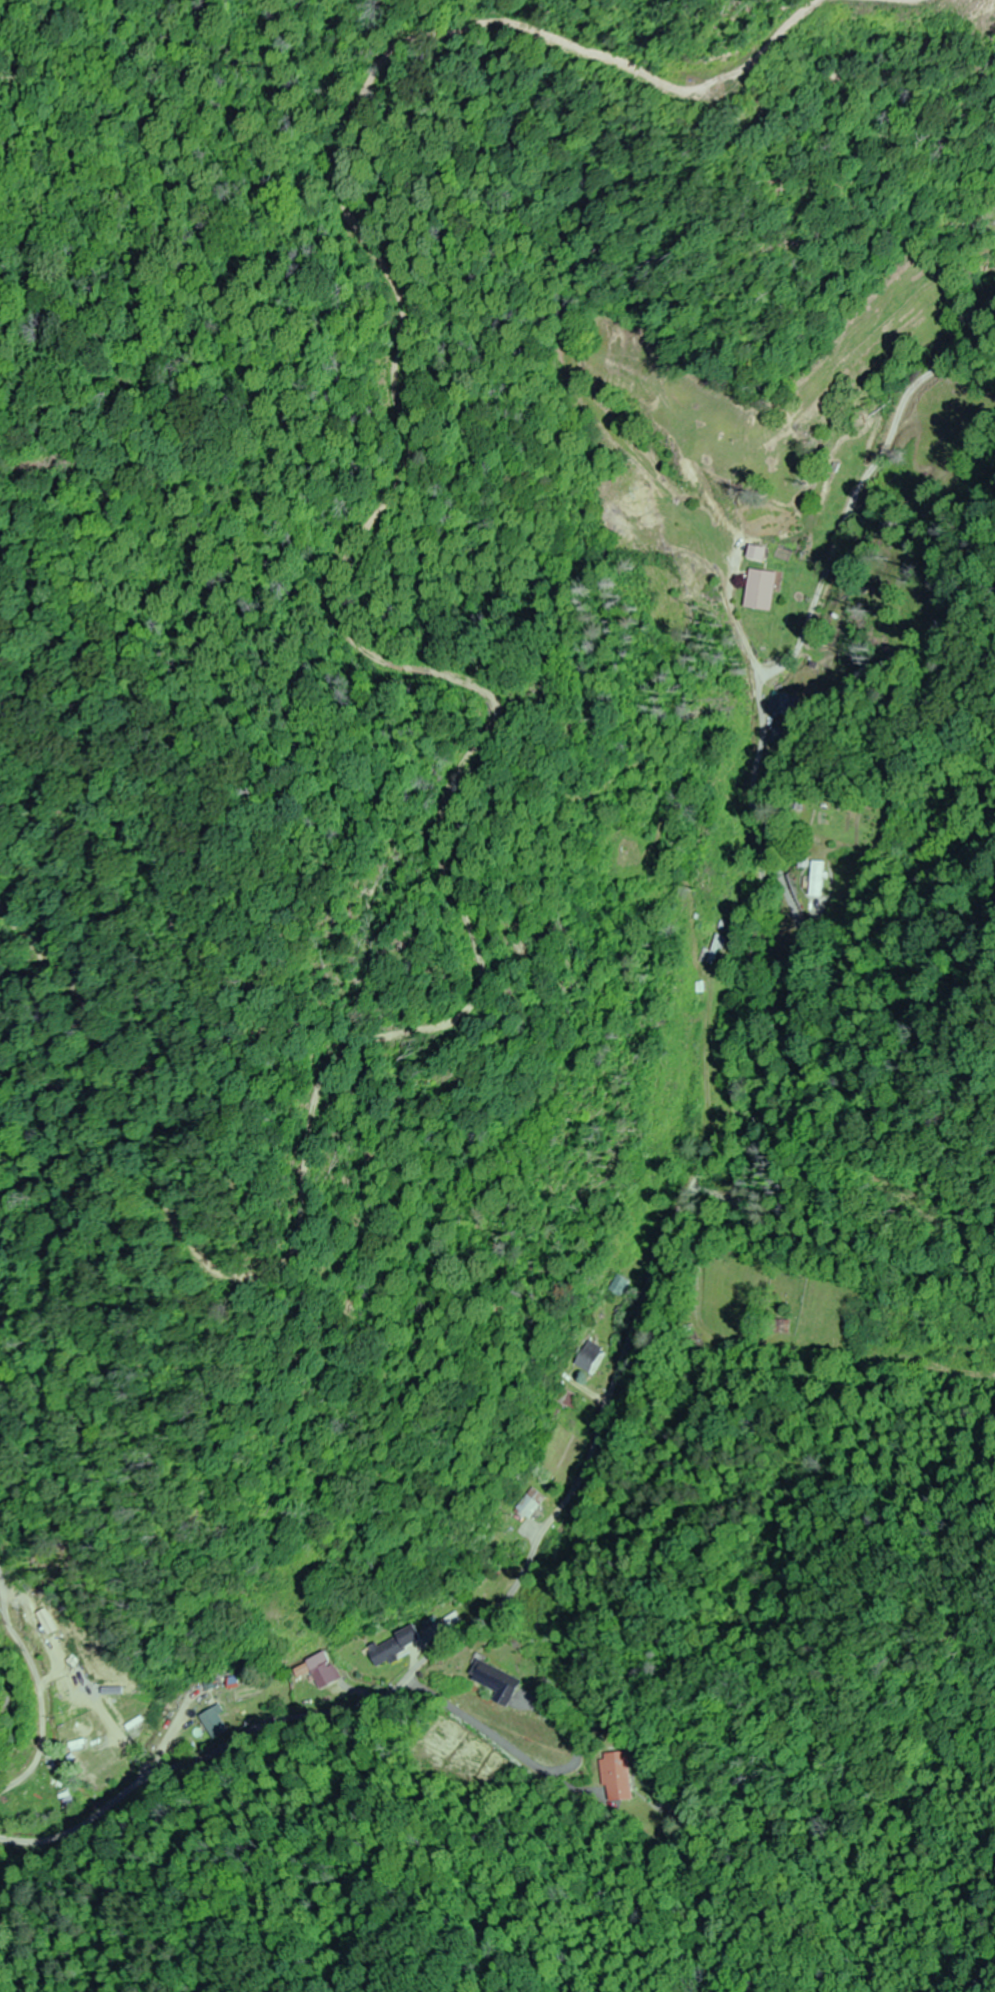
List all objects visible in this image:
building: (753, 554)
building: (758, 591)
building: (779, 704)
building: (819, 878)
building: (715, 950)
road: (658, 1222)
building: (619, 1287)
building: (588, 1358)
building: (527, 1504)
building: (394, 1645)
building: (317, 1670)
building: (490, 1676)
building: (616, 1776)
building: (46, 1787)
building: (9, 1812)

